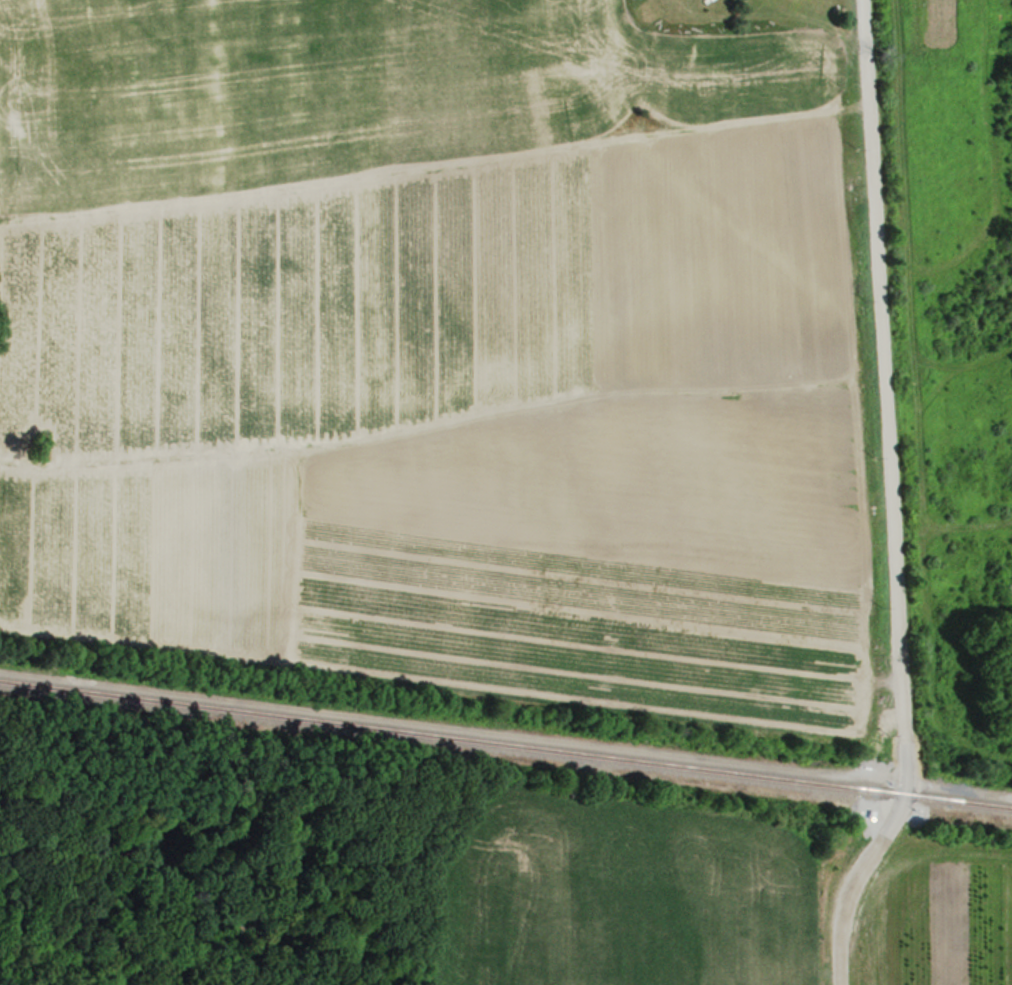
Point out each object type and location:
road: (887, 501)
railway: (506, 744)

